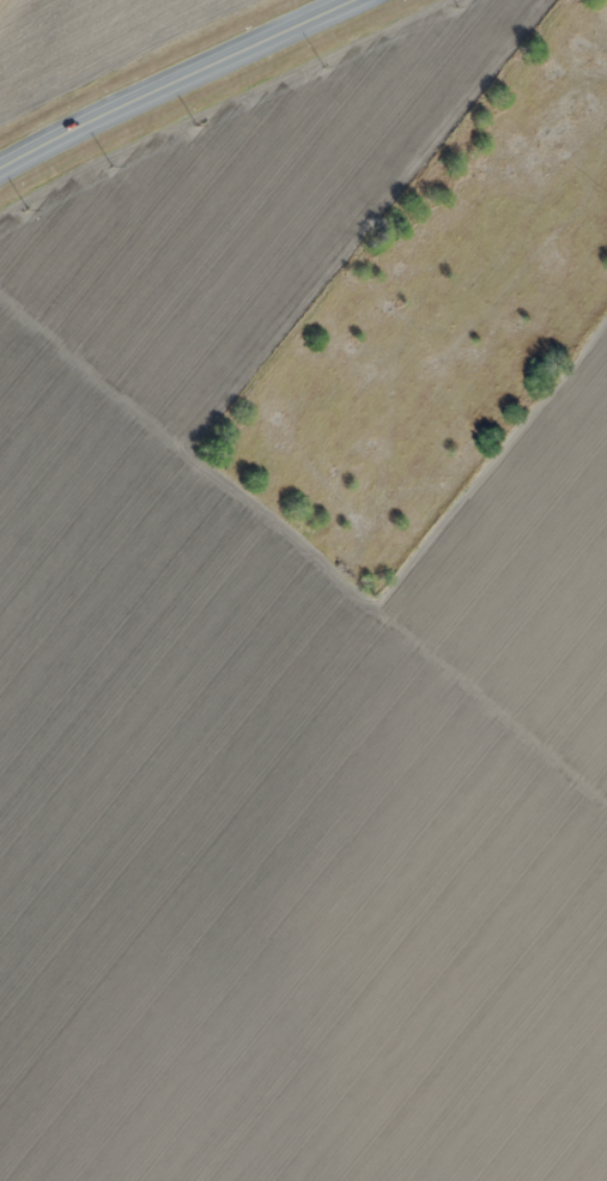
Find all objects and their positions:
road: (178, 83)
crop: (287, 690)

